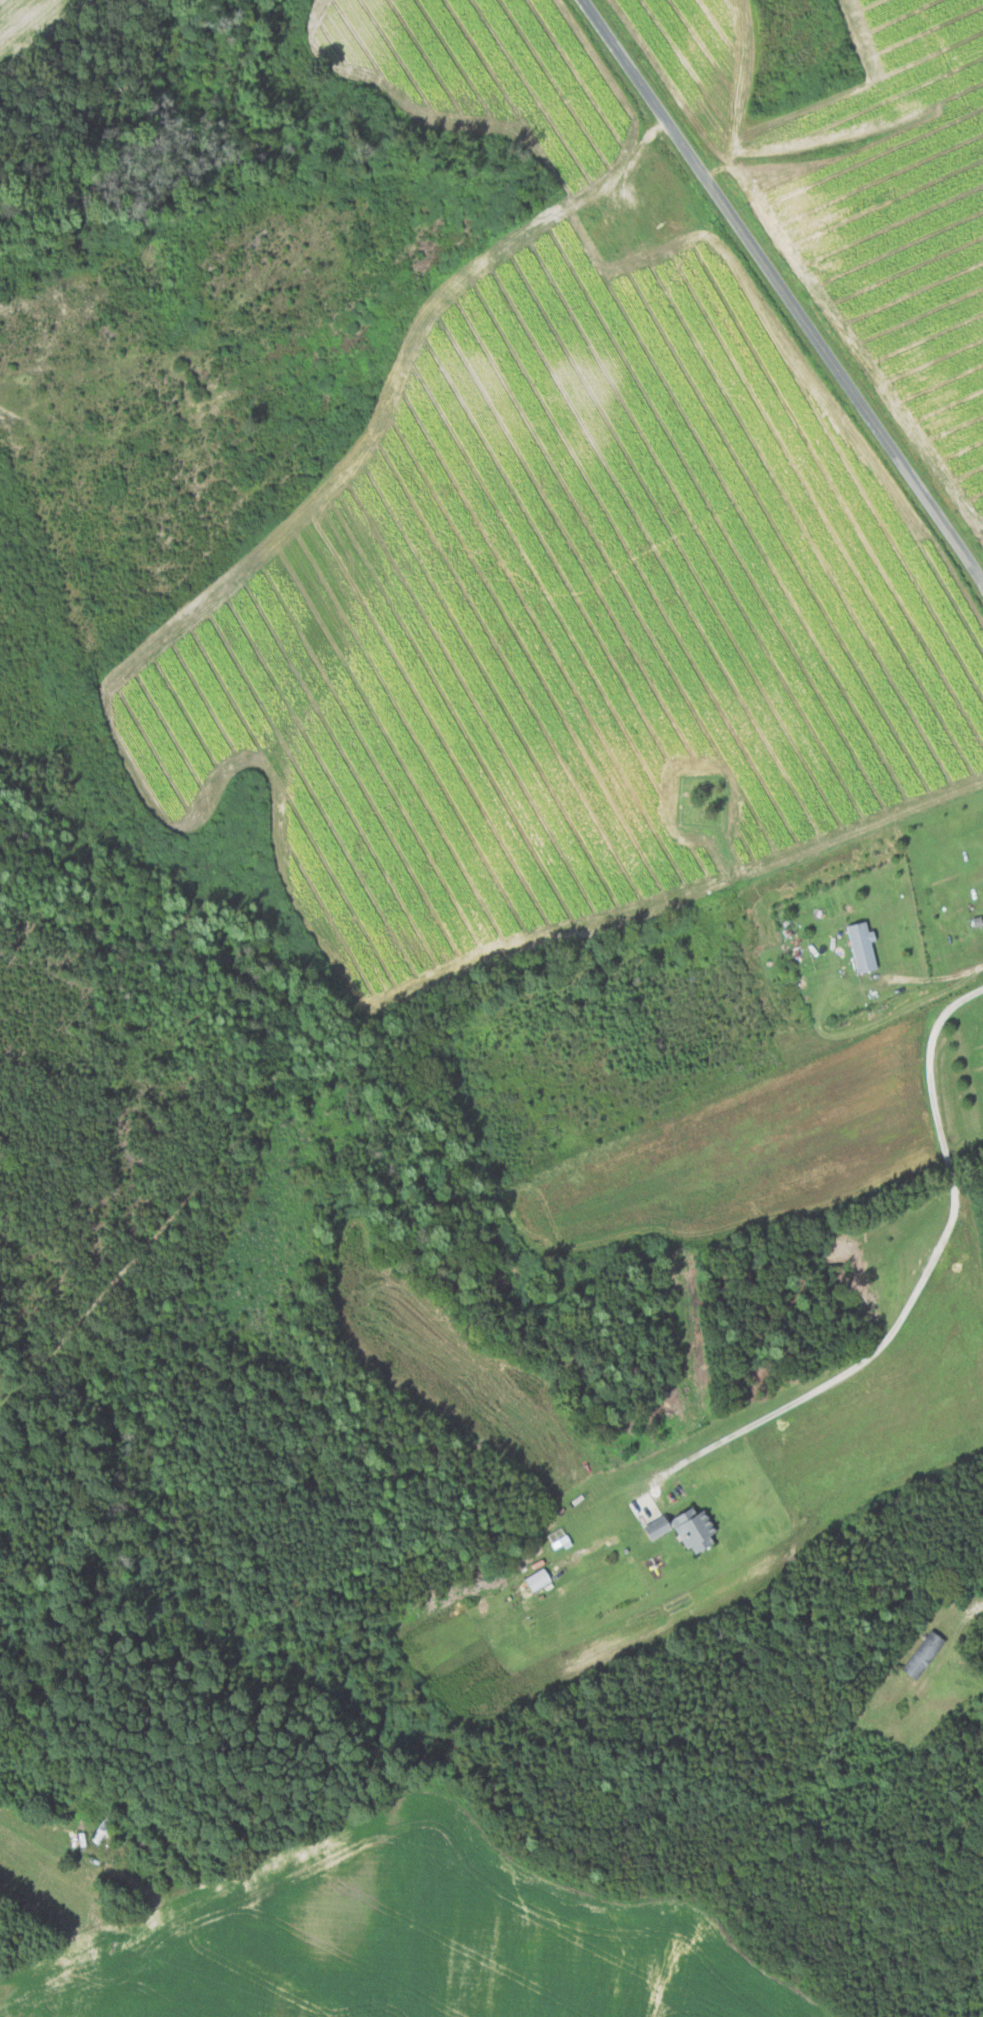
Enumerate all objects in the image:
road: (782, 291)
building: (864, 946)
road: (920, 1282)
building: (676, 1524)
building: (539, 1579)
building: (924, 1654)

